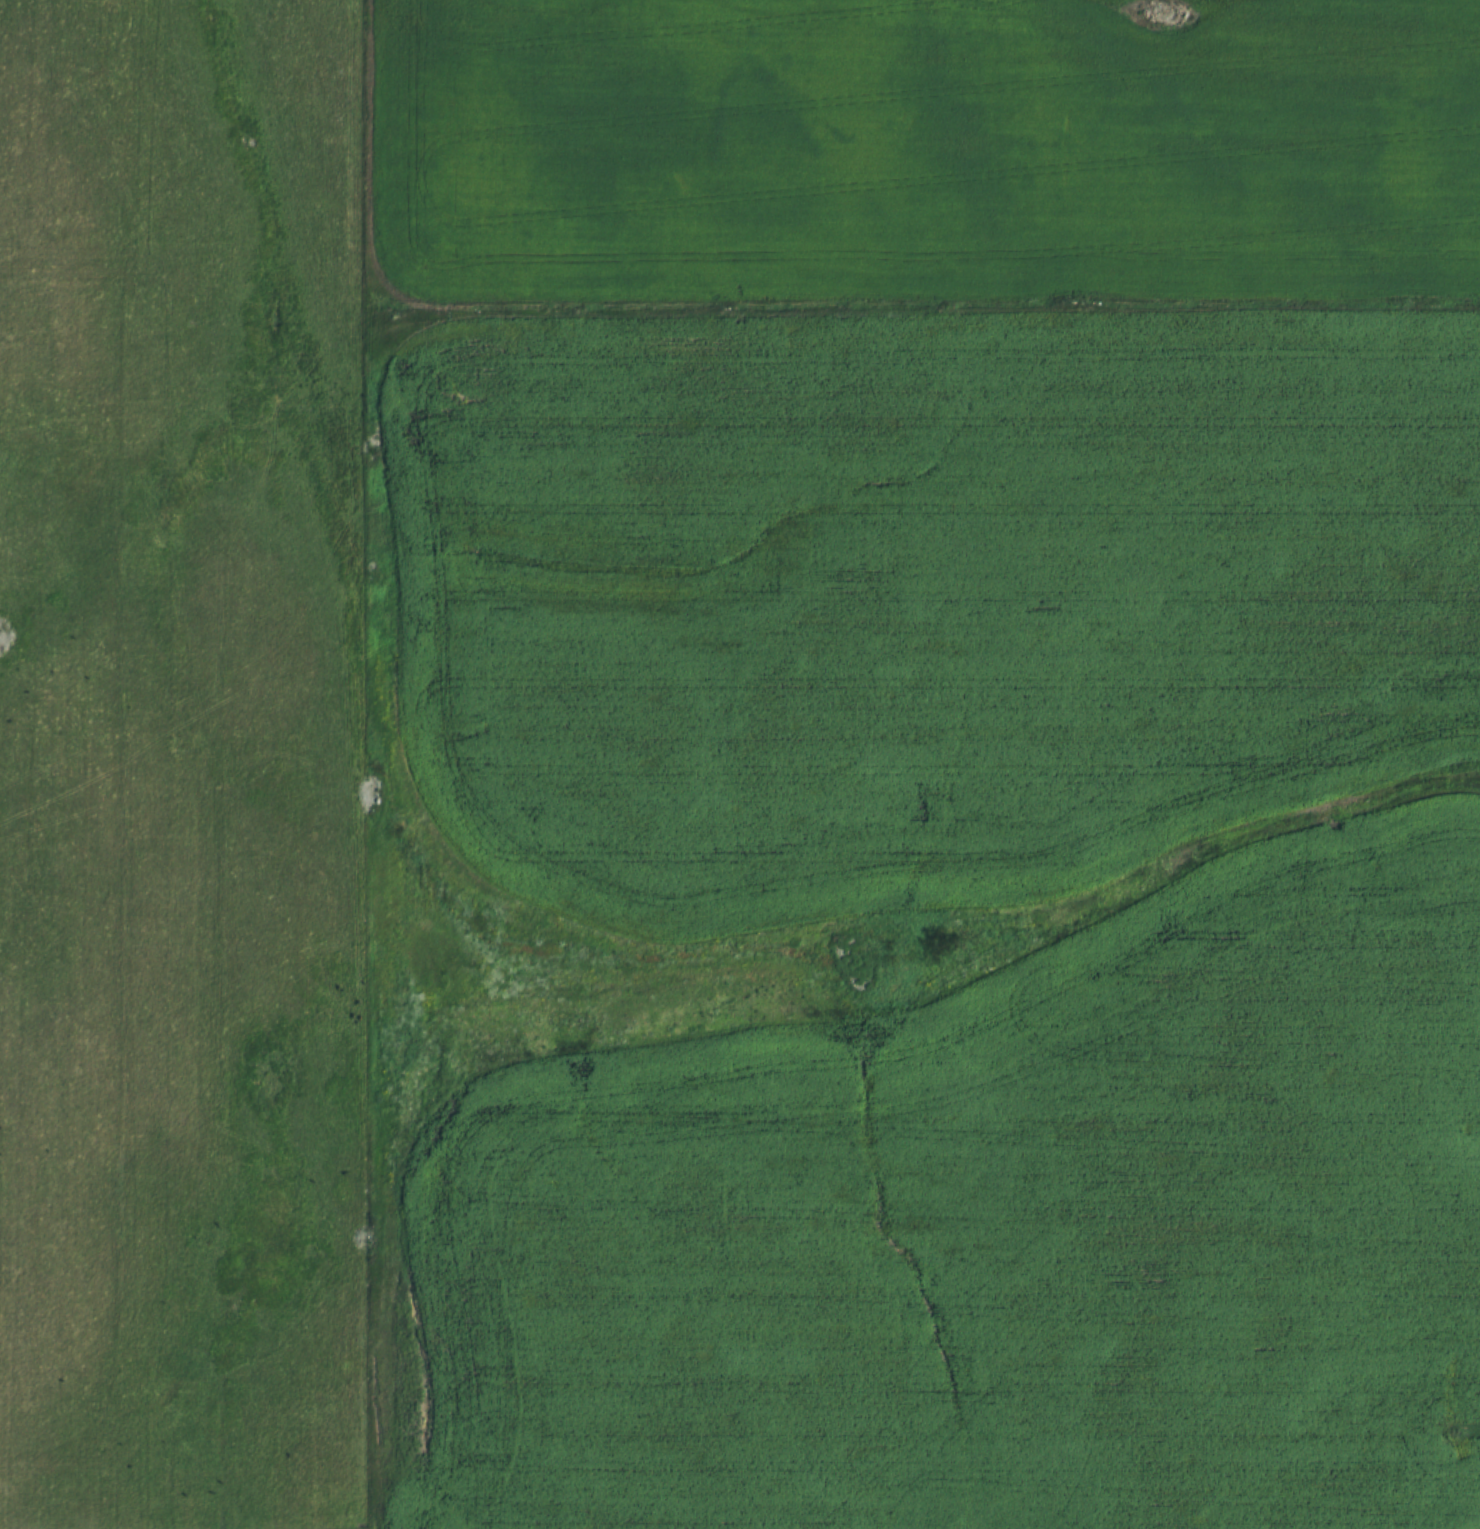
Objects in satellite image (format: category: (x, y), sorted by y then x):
wind turbine: (1456, 1427)

